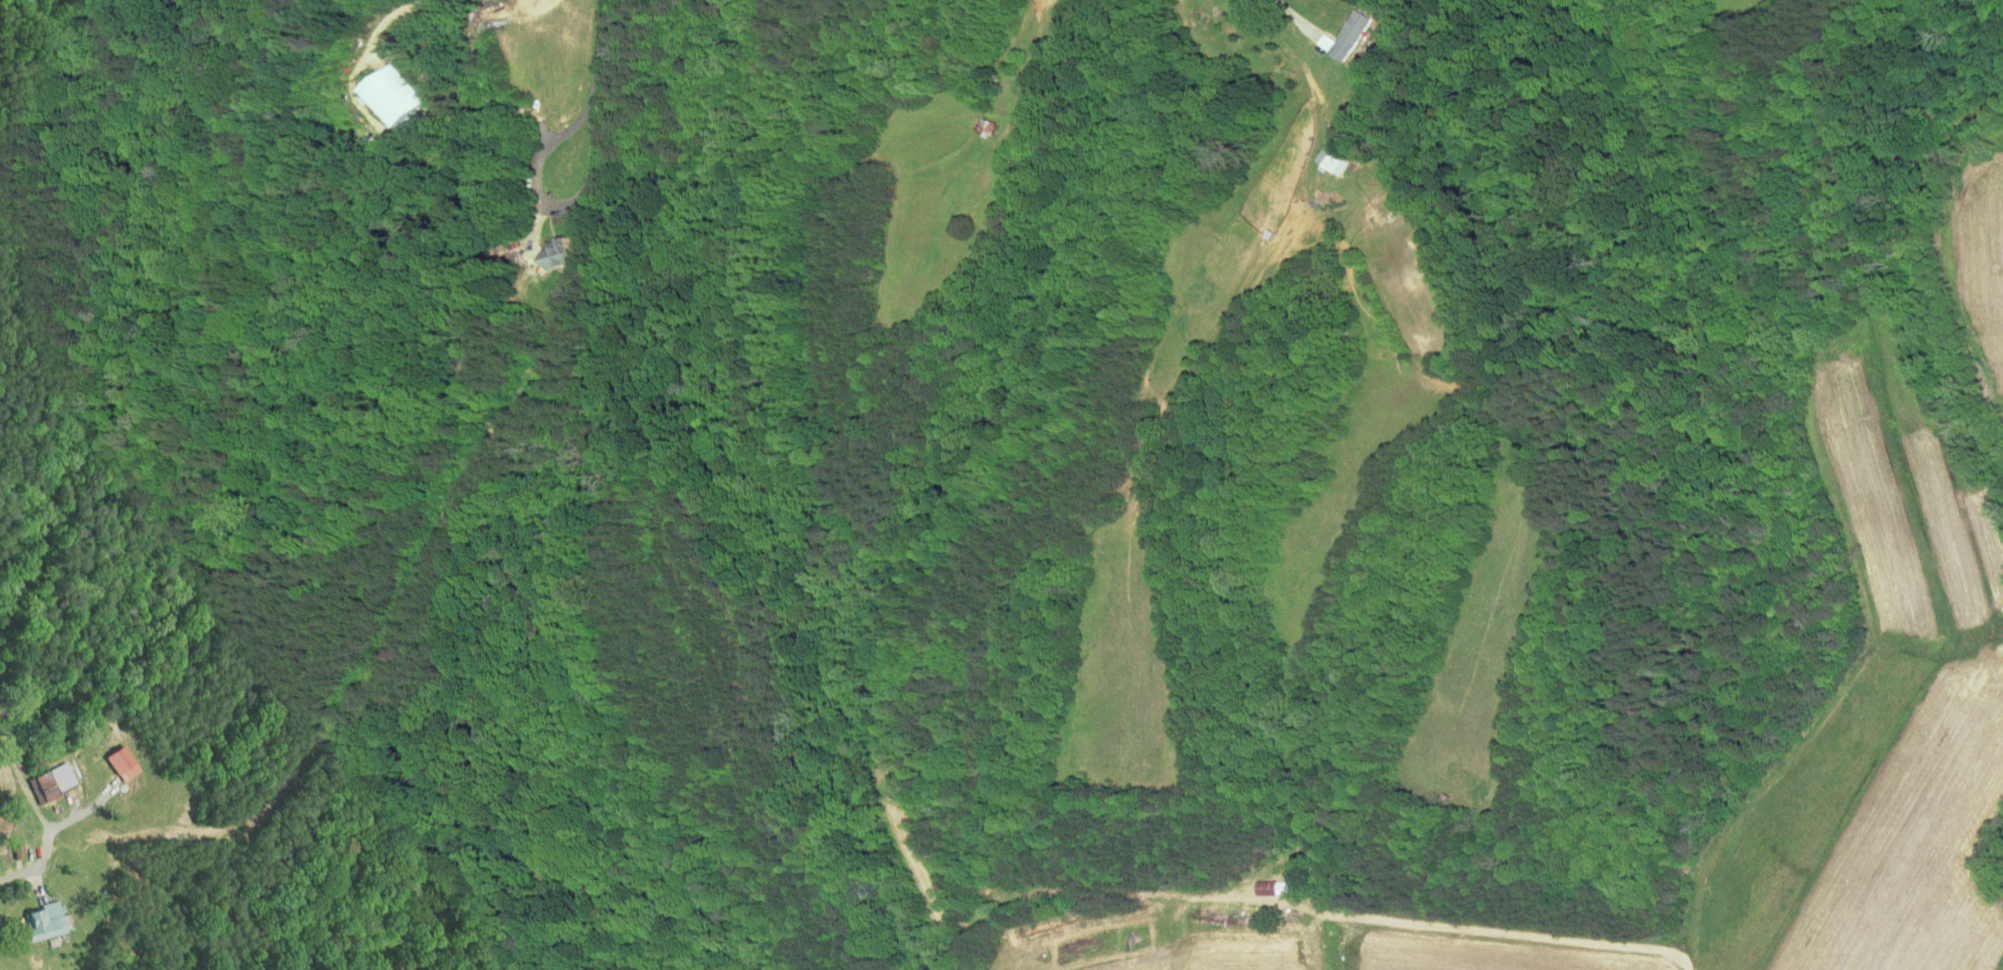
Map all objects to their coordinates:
road: (1300, 26)
building: (1331, 29)
road: (598, 51)
building: (381, 90)
building: (1318, 154)
road: (549, 206)
building: (550, 248)
building: (115, 756)
building: (42, 776)
road: (42, 825)
building: (1268, 882)
building: (1281, 888)
building: (38, 914)

